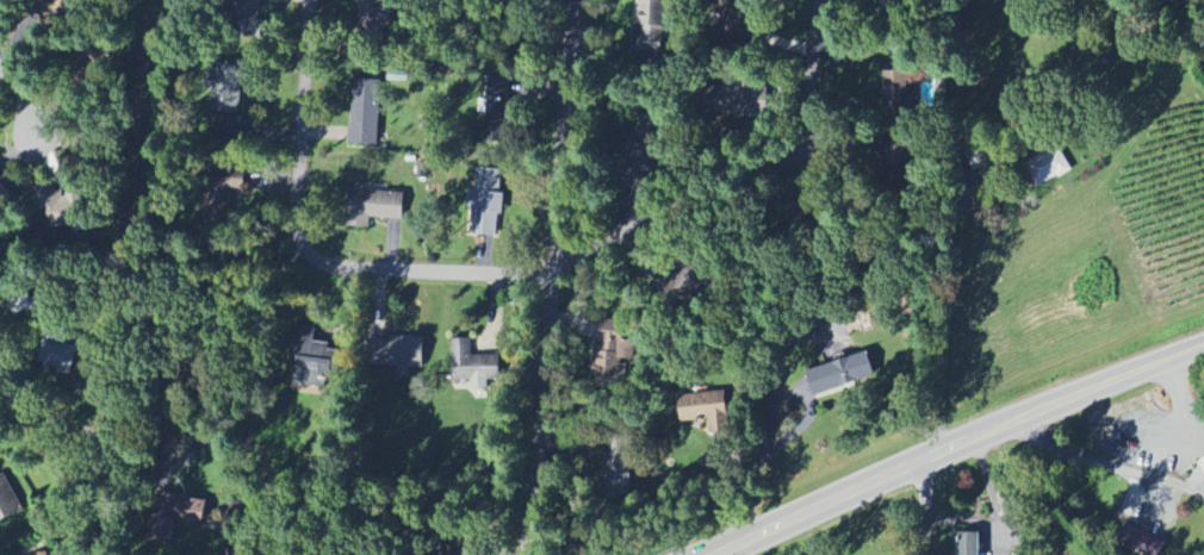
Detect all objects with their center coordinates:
building: (374, 17)
building: (247, 20)
building: (650, 26)
building: (226, 87)
building: (898, 92)
road: (20, 96)
building: (736, 100)
building: (496, 111)
building: (365, 112)
building: (1049, 167)
building: (0, 179)
road: (746, 182)
building: (0, 197)
building: (223, 200)
building: (486, 202)
building: (374, 206)
building: (58, 208)
road: (296, 261)
road: (550, 276)
building: (691, 282)
building: (616, 349)
building: (56, 354)
building: (401, 354)
building: (316, 366)
building: (473, 367)
building: (840, 373)
road: (118, 392)
road: (1178, 400)
building: (706, 411)
road: (960, 445)
road: (1109, 463)
building: (1202, 464)
building: (619, 470)
building: (7, 500)
road: (911, 510)
building: (173, 516)
building: (969, 543)
building: (473, 554)

